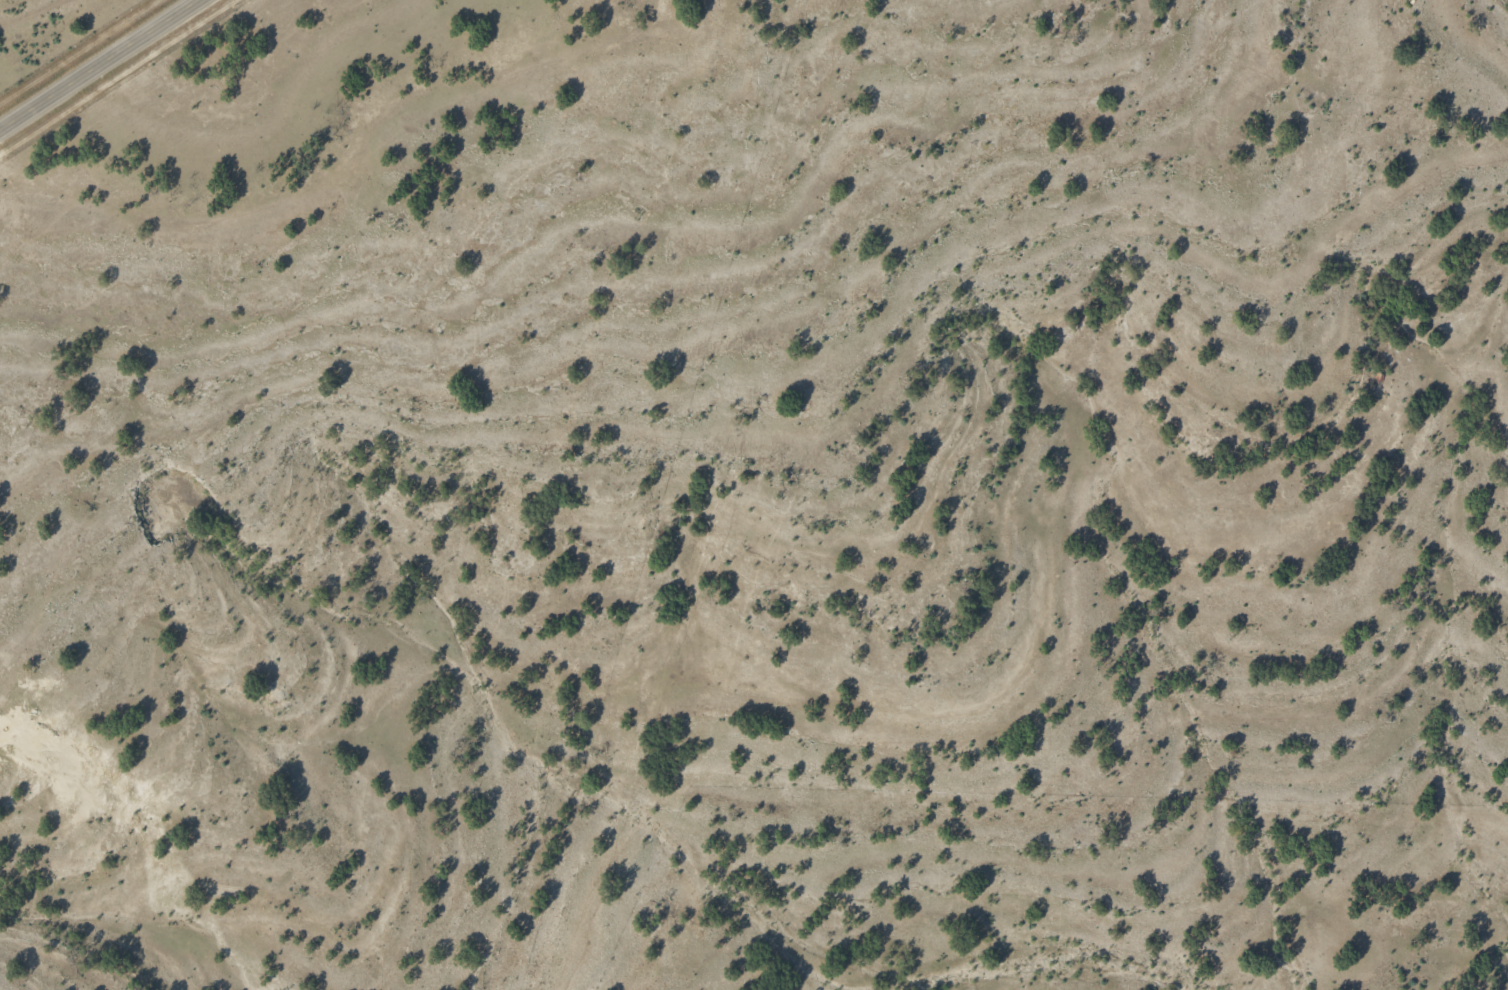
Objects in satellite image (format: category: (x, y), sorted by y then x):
road: (106, 70)

